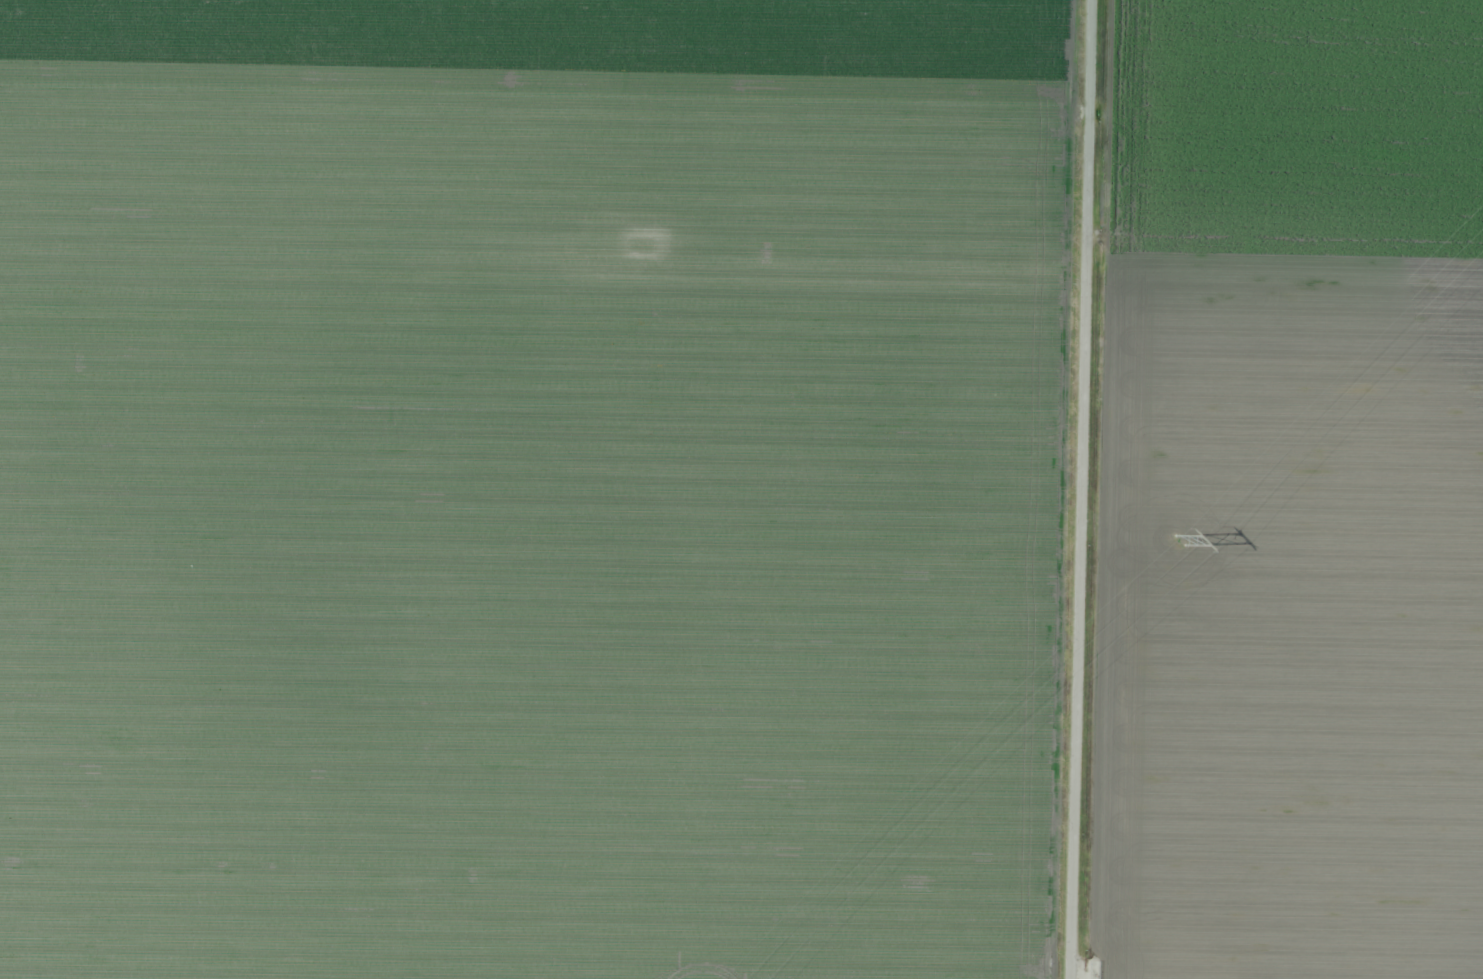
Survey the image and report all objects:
road: (1074, 489)
power tower: (1176, 538)

